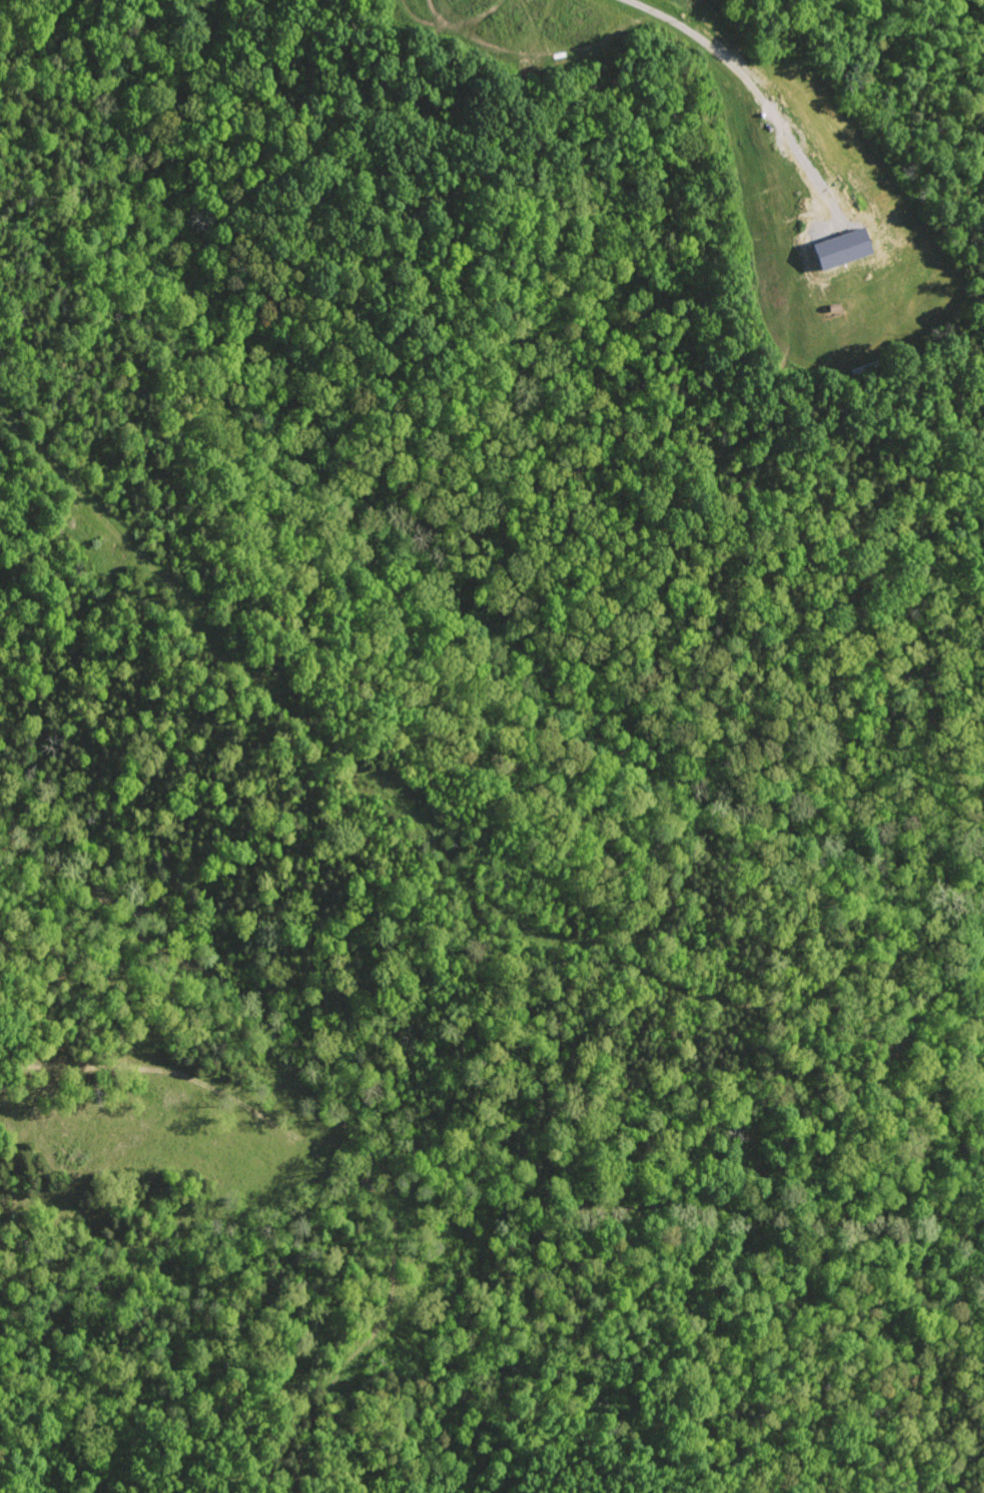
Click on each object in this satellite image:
road: (698, 41)

